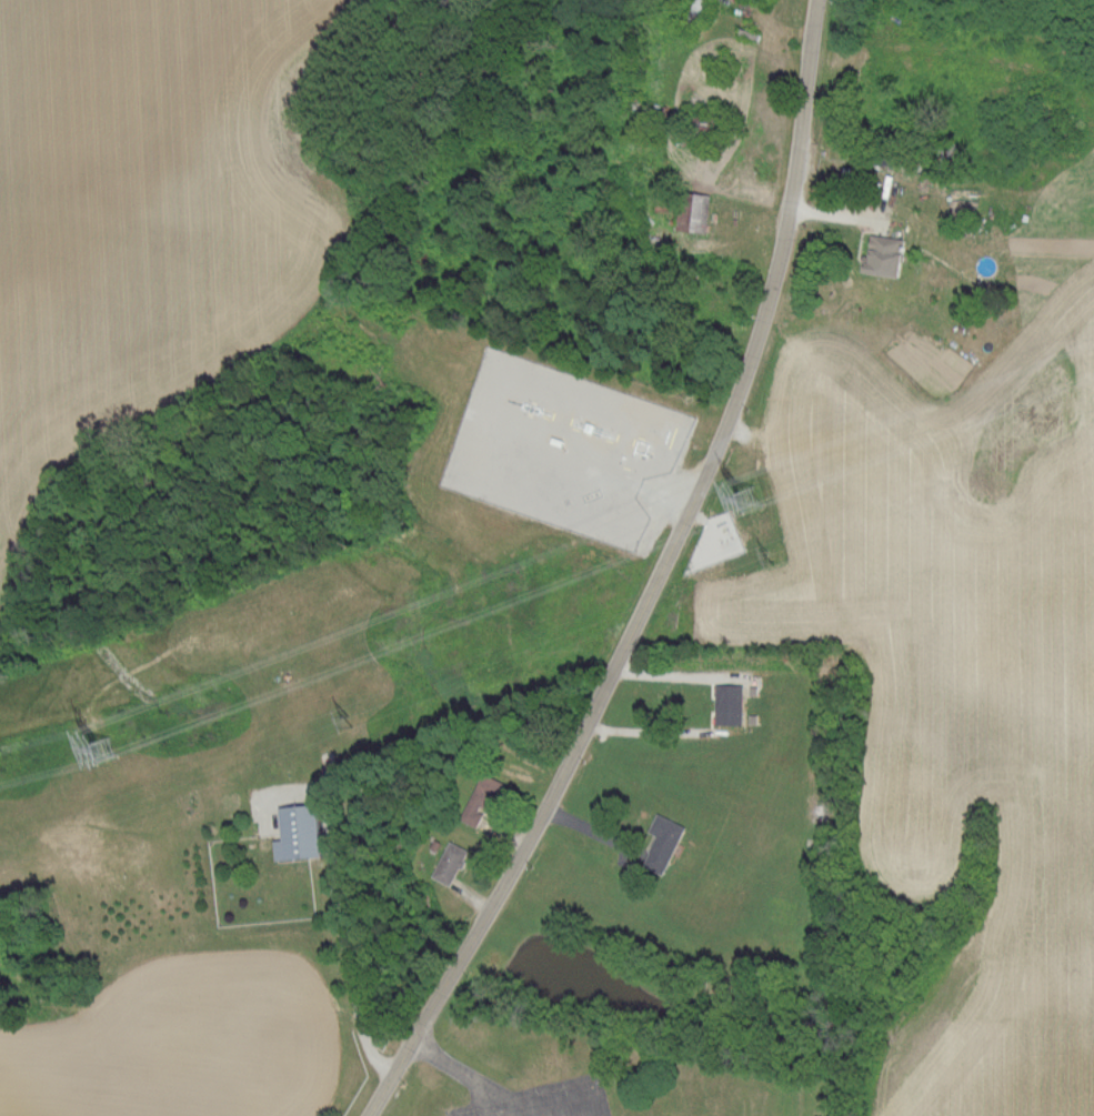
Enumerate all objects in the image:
building: (693, 211)
building: (886, 253)
power tower: (749, 496)
road: (656, 581)
building: (729, 704)
power tower: (100, 748)
building: (484, 796)
building: (325, 824)
building: (300, 832)
building: (663, 843)
building: (451, 862)
road: (344, 944)
road: (464, 1072)

